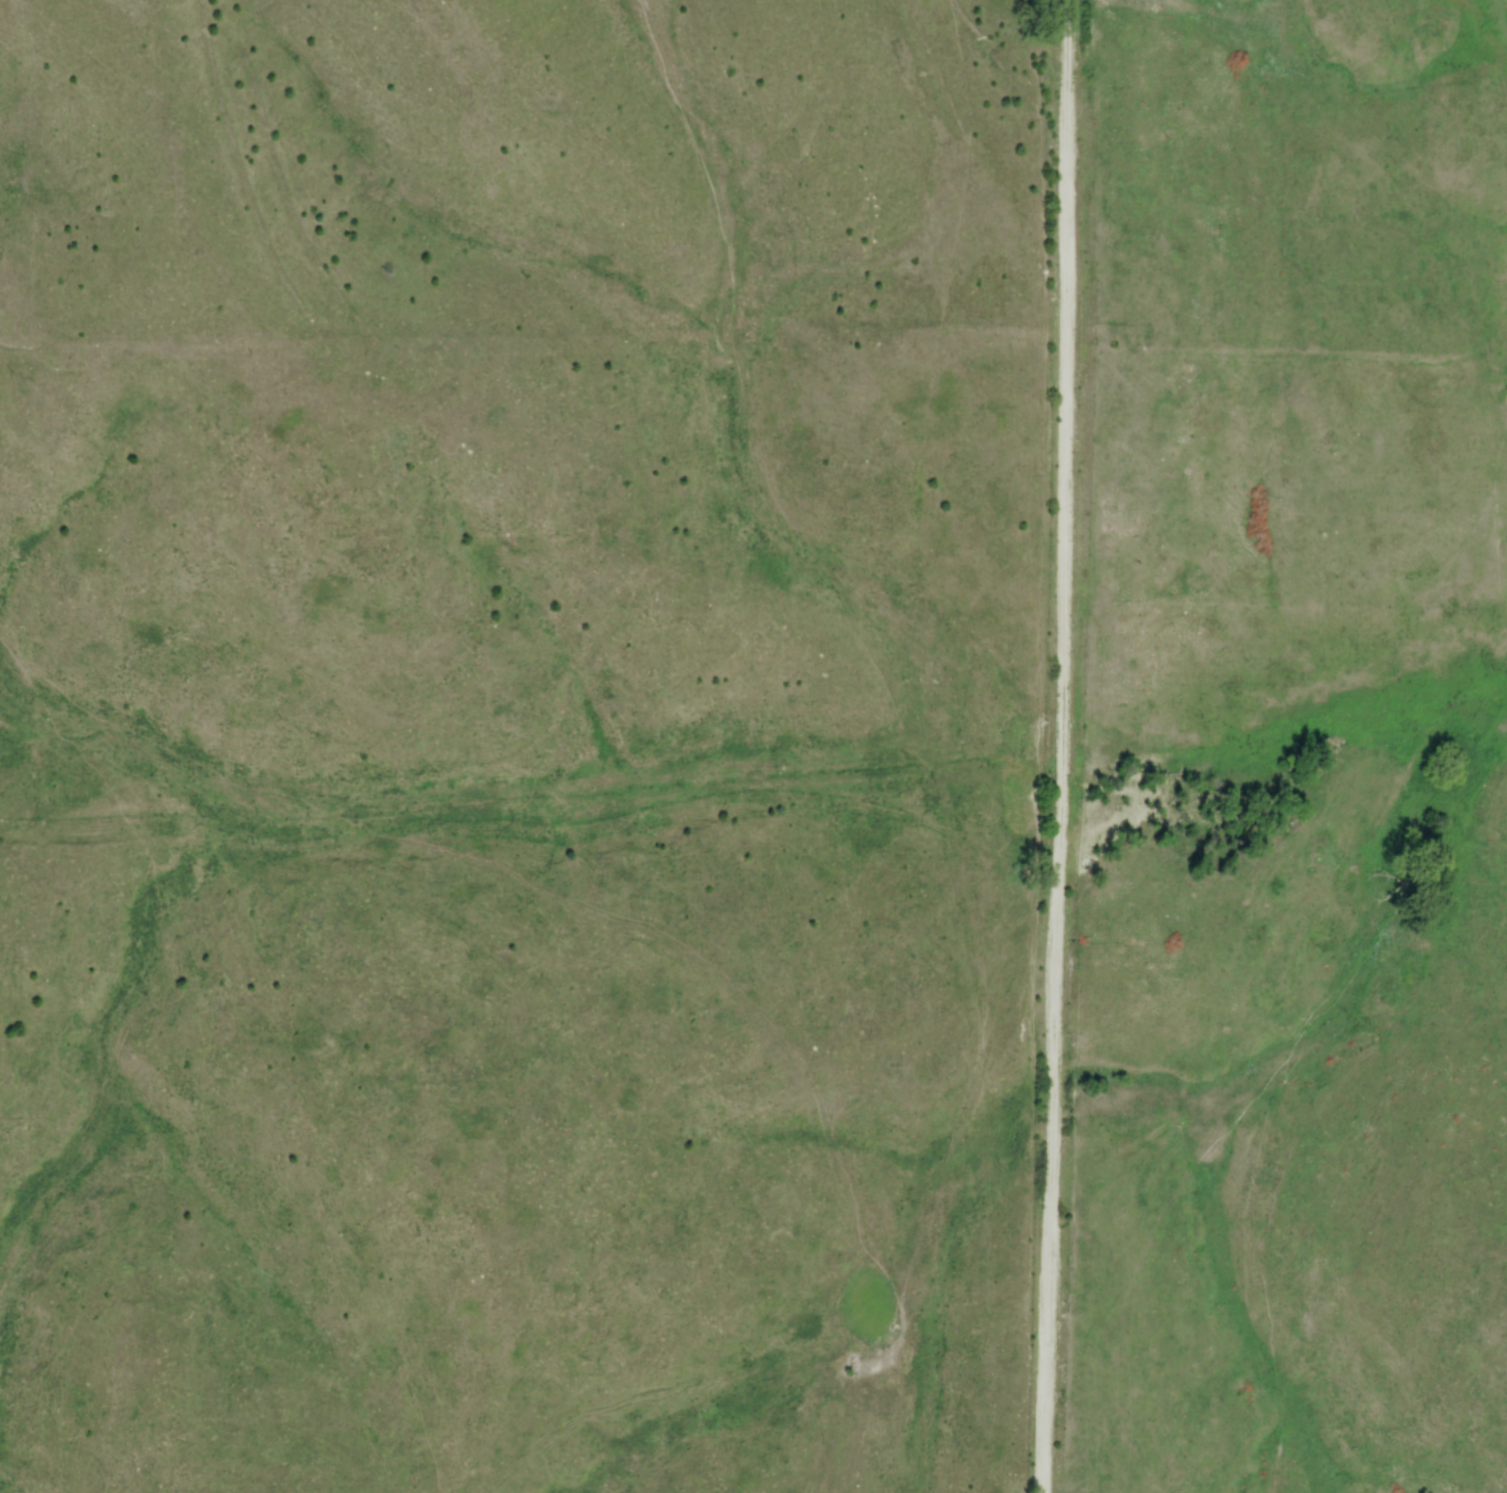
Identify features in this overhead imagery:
road: (1062, 746)

